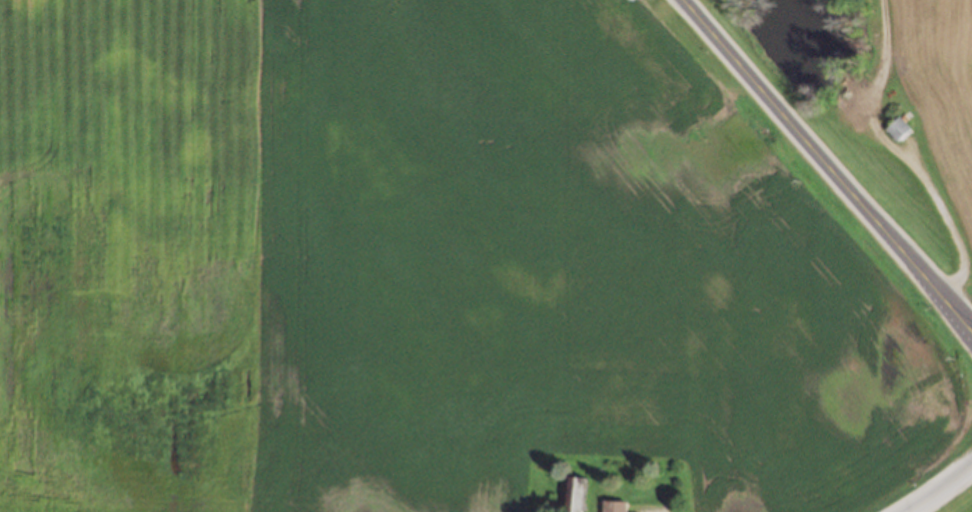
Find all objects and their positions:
building: (897, 129)
road: (826, 166)
road: (953, 222)
road: (936, 487)
building: (572, 494)
building: (611, 506)

